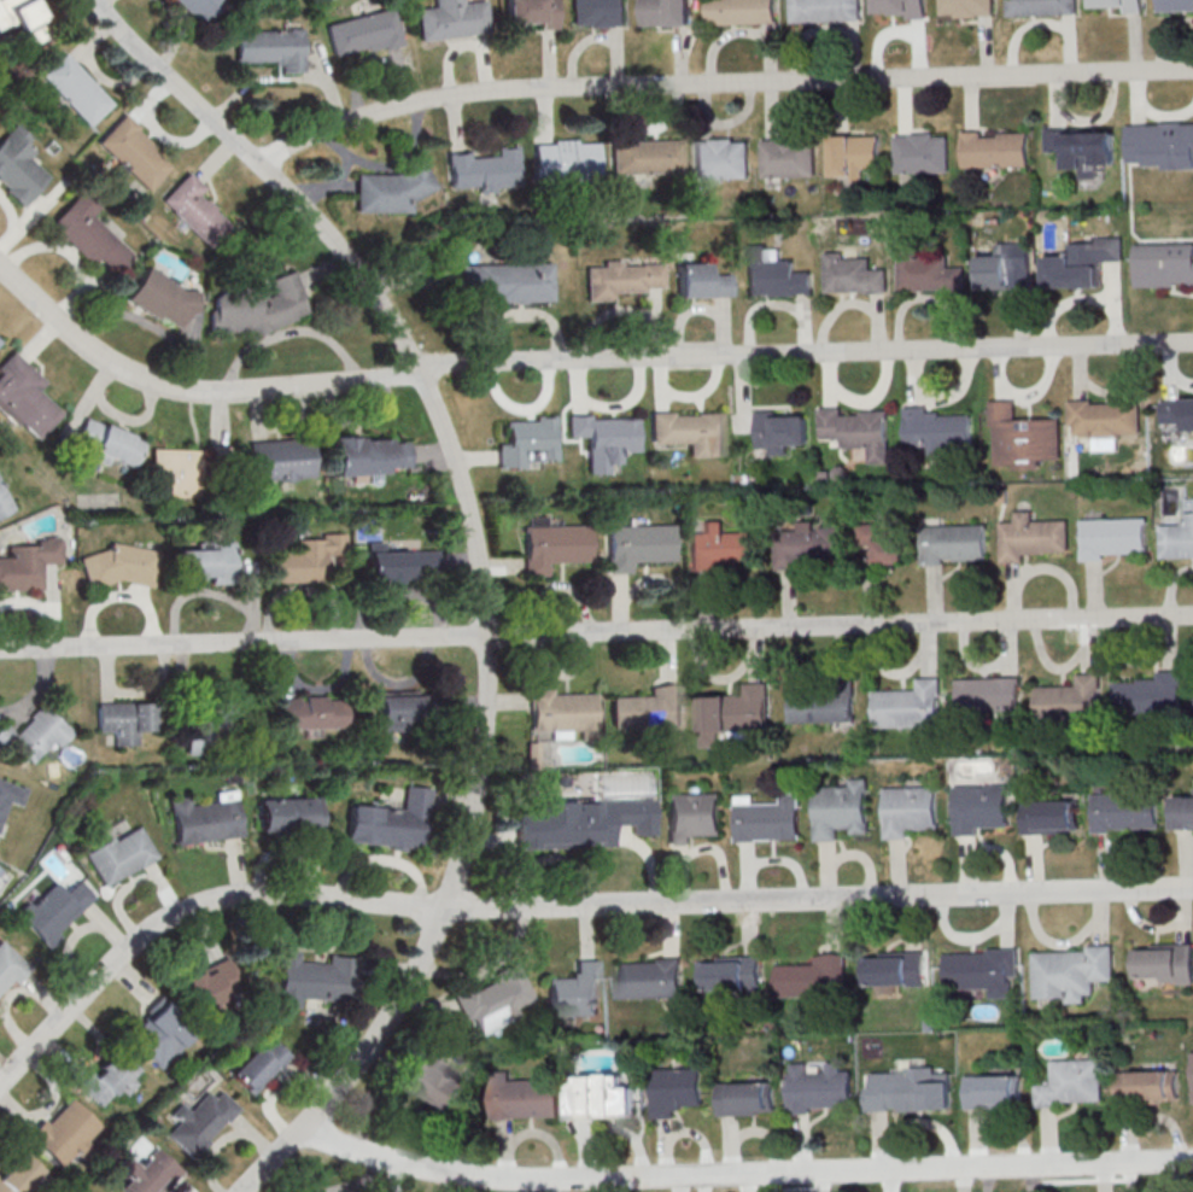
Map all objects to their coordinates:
building: (1175, 5)
building: (903, 7)
building: (966, 7)
building: (1040, 7)
building: (198, 8)
building: (1133, 8)
building: (825, 10)
building: (741, 11)
building: (532, 12)
building: (597, 12)
building: (663, 12)
building: (450, 19)
building: (24, 23)
road: (1023, 29)
building: (363, 31)
road: (176, 33)
road: (805, 35)
road: (1163, 36)
road: (721, 37)
road: (95, 39)
road: (881, 40)
road: (1070, 45)
road: (1134, 45)
building: (268, 47)
road: (579, 47)
road: (986, 47)
road: (917, 49)
road: (853, 51)
road: (768, 53)
road: (680, 57)
road: (449, 58)
road: (618, 58)
road: (549, 59)
road: (483, 63)
road: (356, 74)
road: (400, 77)
road: (261, 80)
road: (113, 82)
road: (719, 83)
road: (327, 87)
building: (75, 89)
road: (1135, 95)
road: (152, 99)
road: (1057, 99)
road: (970, 101)
road: (903, 105)
road: (840, 106)
road: (770, 107)
road: (703, 110)
road: (619, 111)
road: (545, 113)
road: (1163, 116)
road: (1100, 117)
road: (741, 118)
road: (455, 122)
road: (661, 124)
road: (171, 140)
building: (1160, 144)
building: (993, 148)
building: (1083, 148)
building: (130, 150)
building: (922, 152)
building: (854, 154)
building: (647, 157)
building: (788, 157)
building: (720, 158)
road: (218, 159)
building: (567, 160)
building: (18, 166)
road: (387, 166)
building: (485, 170)
road: (346, 183)
road: (332, 186)
building: (392, 188)
building: (195, 210)
building: (88, 234)
building: (1083, 261)
building: (1163, 264)
building: (1000, 268)
building: (926, 269)
building: (773, 274)
building: (853, 275)
building: (621, 279)
building: (698, 279)
road: (410, 281)
building: (509, 281)
building: (160, 297)
road: (907, 303)
road: (1064, 305)
road: (1115, 305)
building: (256, 306)
road: (755, 306)
road: (835, 311)
road: (1022, 312)
road: (520, 315)
road: (606, 315)
road: (684, 315)
road: (955, 322)
road: (877, 323)
road: (657, 325)
road: (803, 325)
road: (724, 327)
building: (0, 340)
road: (574, 361)
road: (1077, 370)
road: (1168, 370)
road: (999, 373)
road: (830, 376)
road: (914, 376)
road: (1180, 381)
road: (662, 382)
road: (578, 386)
road: (1039, 390)
road: (743, 391)
road: (955, 391)
road: (703, 392)
road: (1124, 392)
road: (875, 397)
building: (25, 398)
road: (626, 403)
road: (522, 409)
building: (1177, 411)
building: (1103, 417)
building: (779, 430)
building: (858, 430)
building: (936, 430)
building: (691, 431)
building: (1023, 437)
building: (604, 438)
building: (527, 442)
building: (111, 444)
building: (372, 455)
road: (475, 460)
building: (281, 461)
building: (192, 472)
building: (1002, 496)
building: (5, 501)
building: (1031, 537)
building: (1112, 537)
building: (1177, 538)
building: (884, 542)
building: (953, 542)
building: (554, 544)
building: (638, 544)
building: (806, 544)
building: (724, 547)
building: (306, 560)
building: (29, 563)
building: (204, 563)
building: (124, 566)
building: (404, 566)
road: (479, 566)
road: (499, 566)
road: (1059, 571)
road: (666, 582)
road: (1170, 585)
road: (559, 586)
road: (869, 588)
road: (1094, 591)
road: (1012, 592)
road: (935, 596)
road: (788, 601)
road: (703, 603)
road: (620, 604)
road: (596, 632)
building: (1151, 695)
building: (988, 696)
building: (1070, 701)
building: (910, 706)
building: (650, 708)
building: (803, 708)
building: (843, 709)
building: (399, 711)
building: (563, 711)
building: (314, 712)
building: (736, 715)
building: (127, 720)
building: (209, 729)
building: (35, 735)
building: (10, 795)
building: (981, 807)
building: (842, 808)
building: (910, 810)
building: (1125, 812)
building: (1183, 812)
building: (290, 816)
building: (692, 816)
building: (1051, 817)
building: (206, 818)
building: (622, 818)
building: (771, 819)
building: (391, 823)
building: (548, 825)
building: (122, 855)
road: (818, 900)
building: (54, 910)
road: (188, 910)
building: (1163, 963)
building: (10, 968)
building: (895, 970)
building: (983, 970)
building: (1071, 972)
building: (731, 974)
building: (650, 977)
building: (815, 977)
building: (311, 980)
building: (212, 984)
building: (575, 992)
building: (495, 1001)
building: (157, 1034)
building: (259, 1064)
building: (109, 1077)
building: (1072, 1083)
building: (438, 1085)
building: (1147, 1086)
building: (819, 1088)
building: (677, 1089)
building: (912, 1091)
building: (994, 1091)
building: (525, 1097)
building: (604, 1097)
building: (747, 1098)
building: (201, 1122)
building: (65, 1132)
building: (148, 1173)
building: (17, 1174)
road: (744, 1174)

